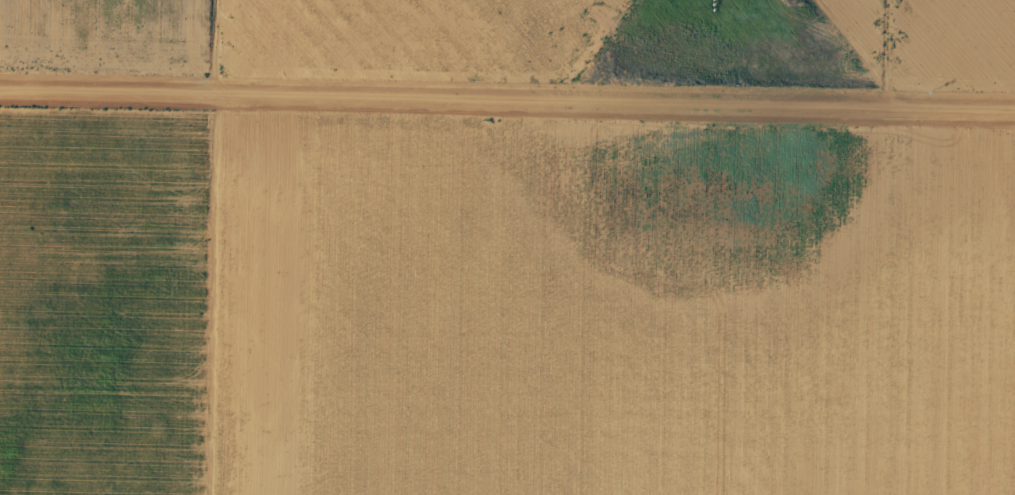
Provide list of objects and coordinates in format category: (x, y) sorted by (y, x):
road: (507, 120)
road: (197, 247)

